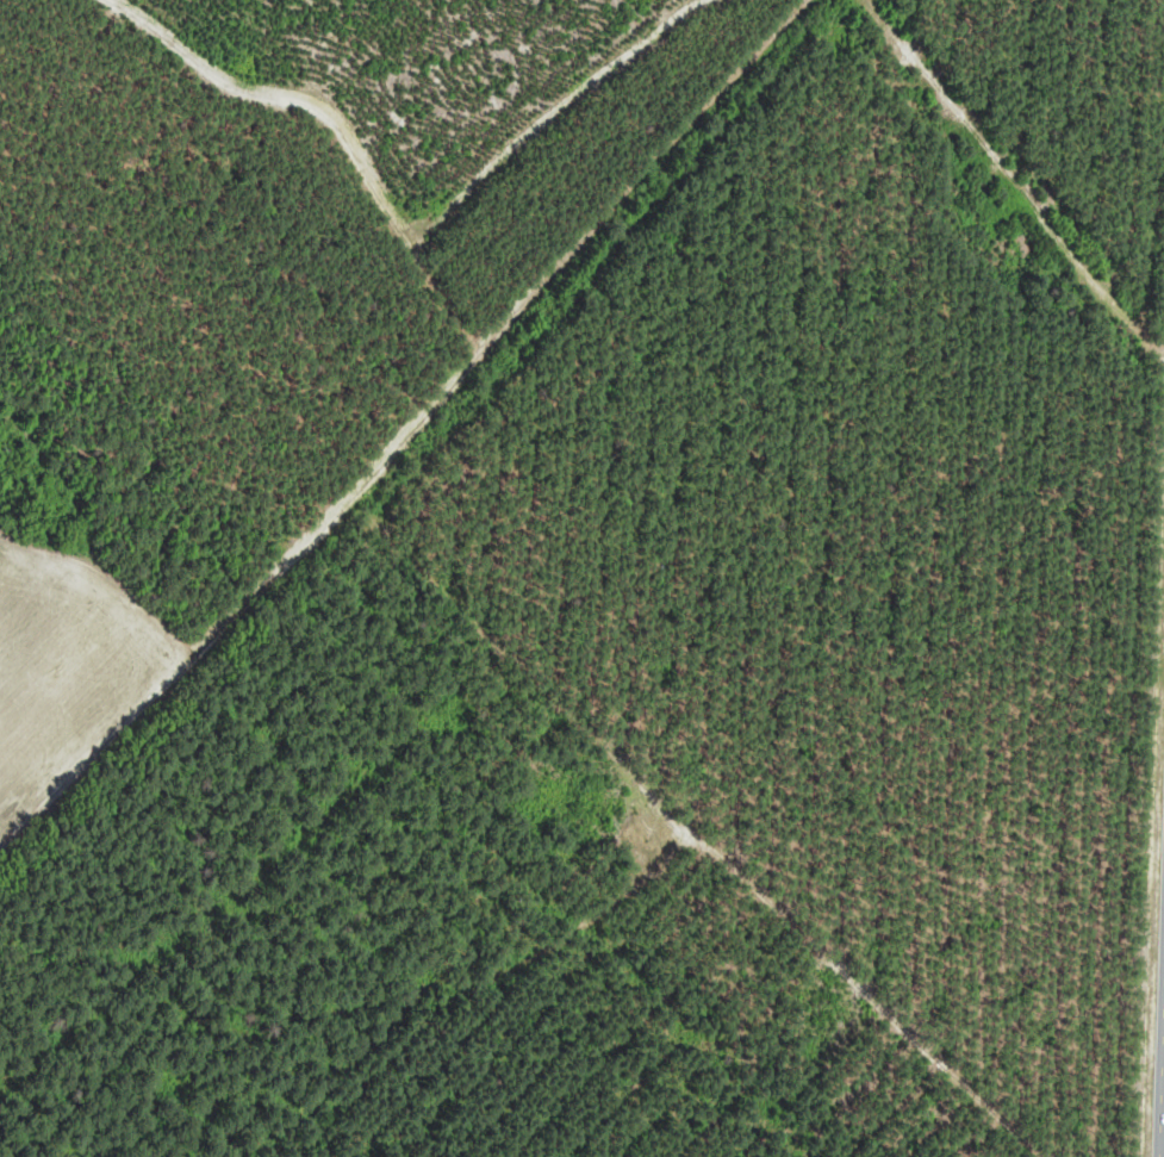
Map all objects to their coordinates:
road: (1162, 1089)

